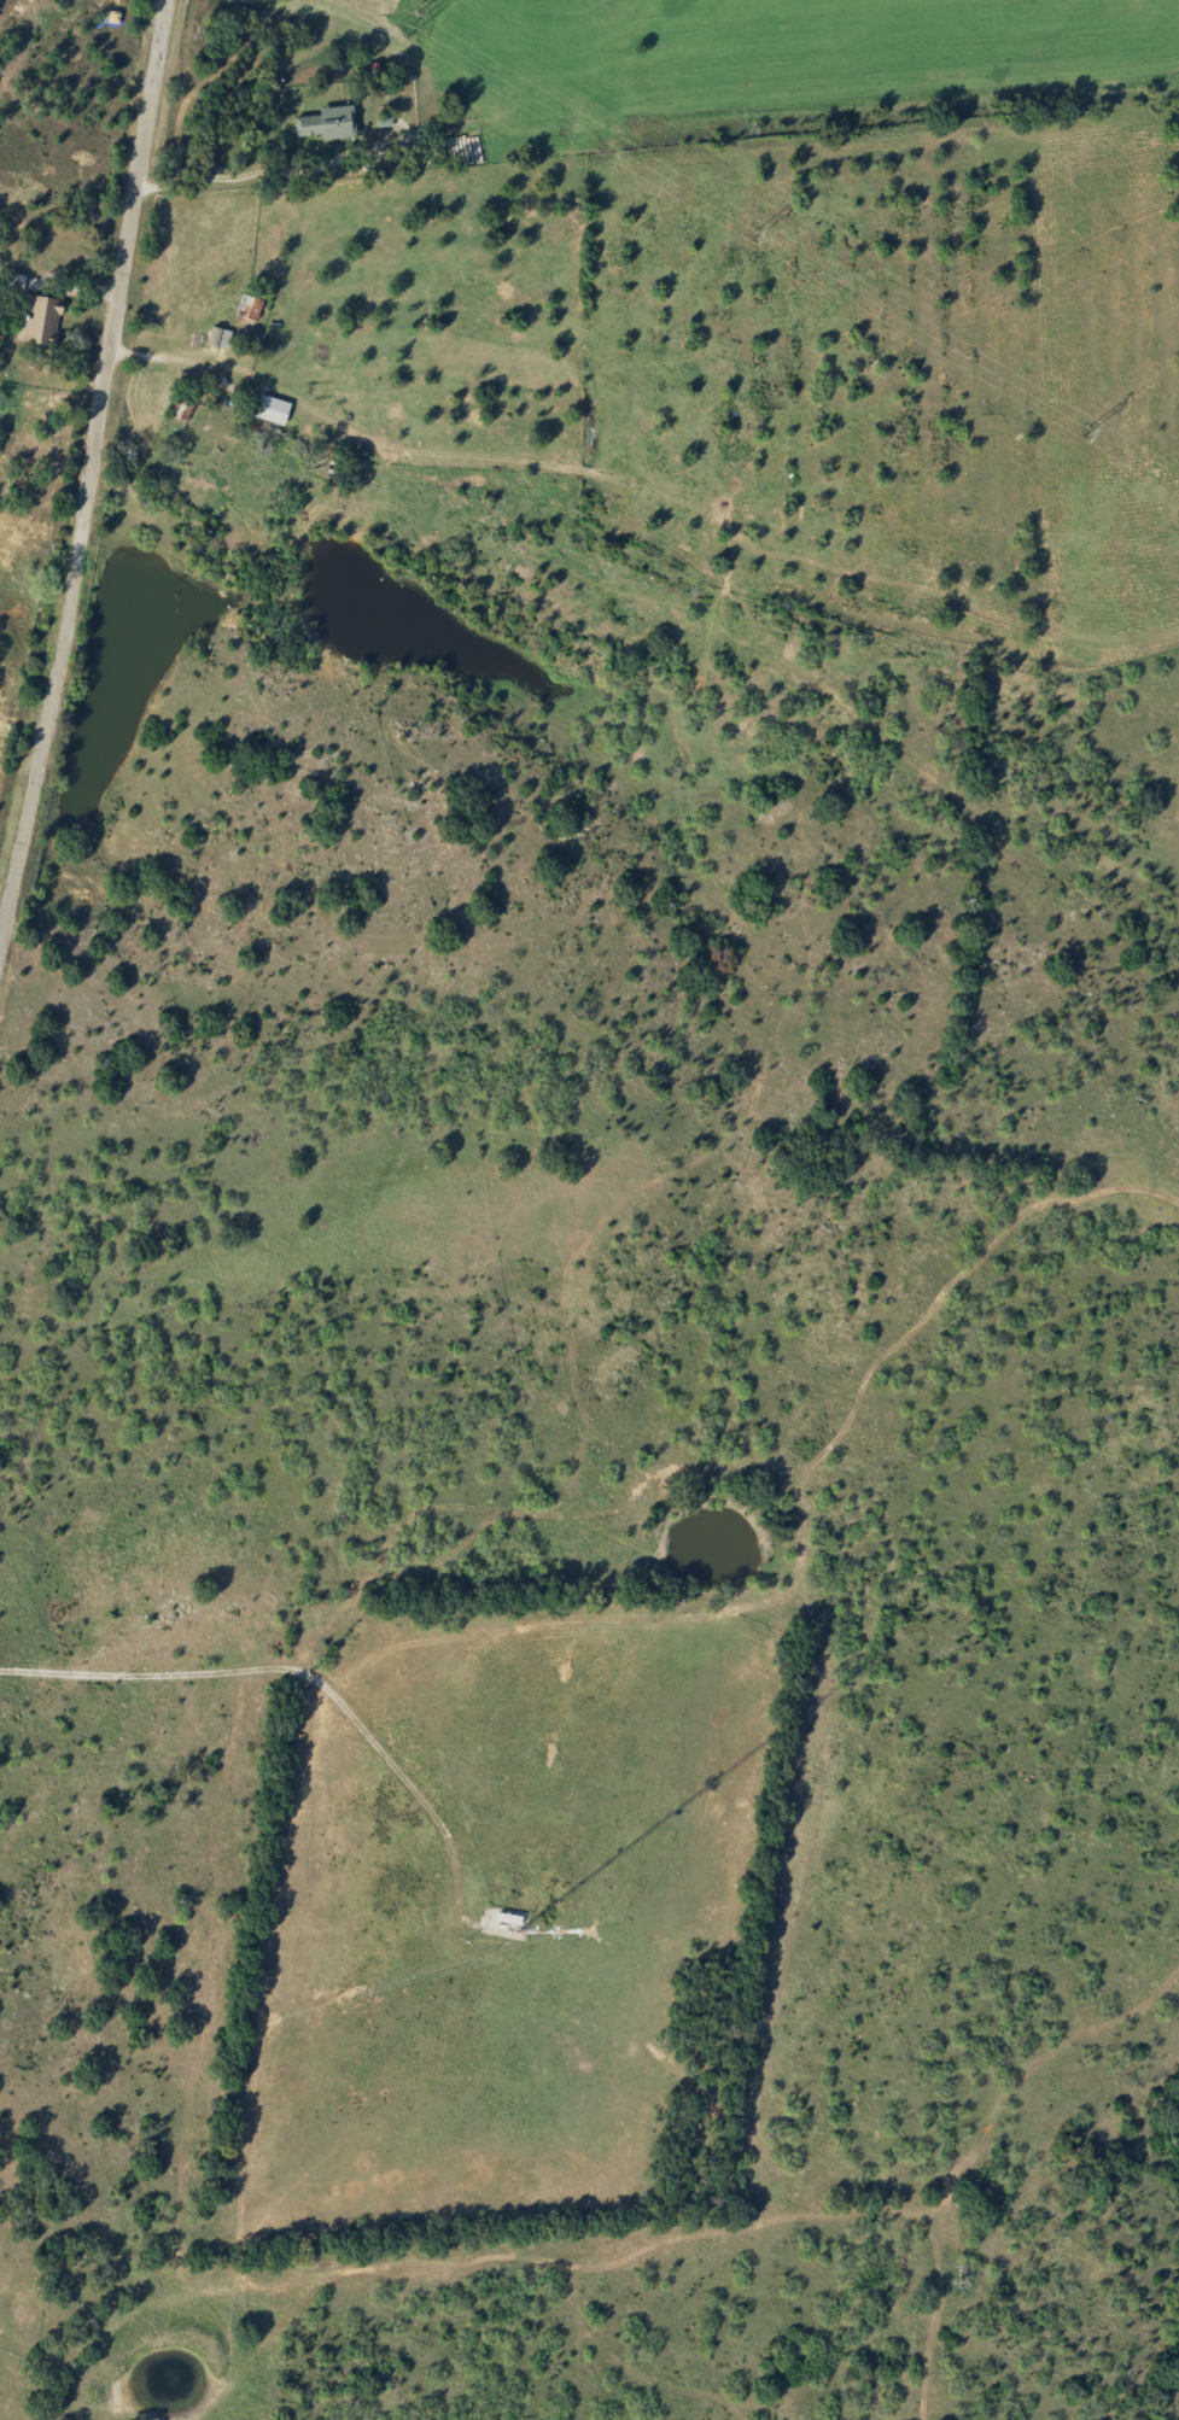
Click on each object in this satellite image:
building: (323, 123)
building: (14, 281)
building: (246, 305)
building: (37, 321)
building: (198, 327)
building: (268, 409)
road: (343, 432)
road: (94, 462)
road: (300, 1673)

